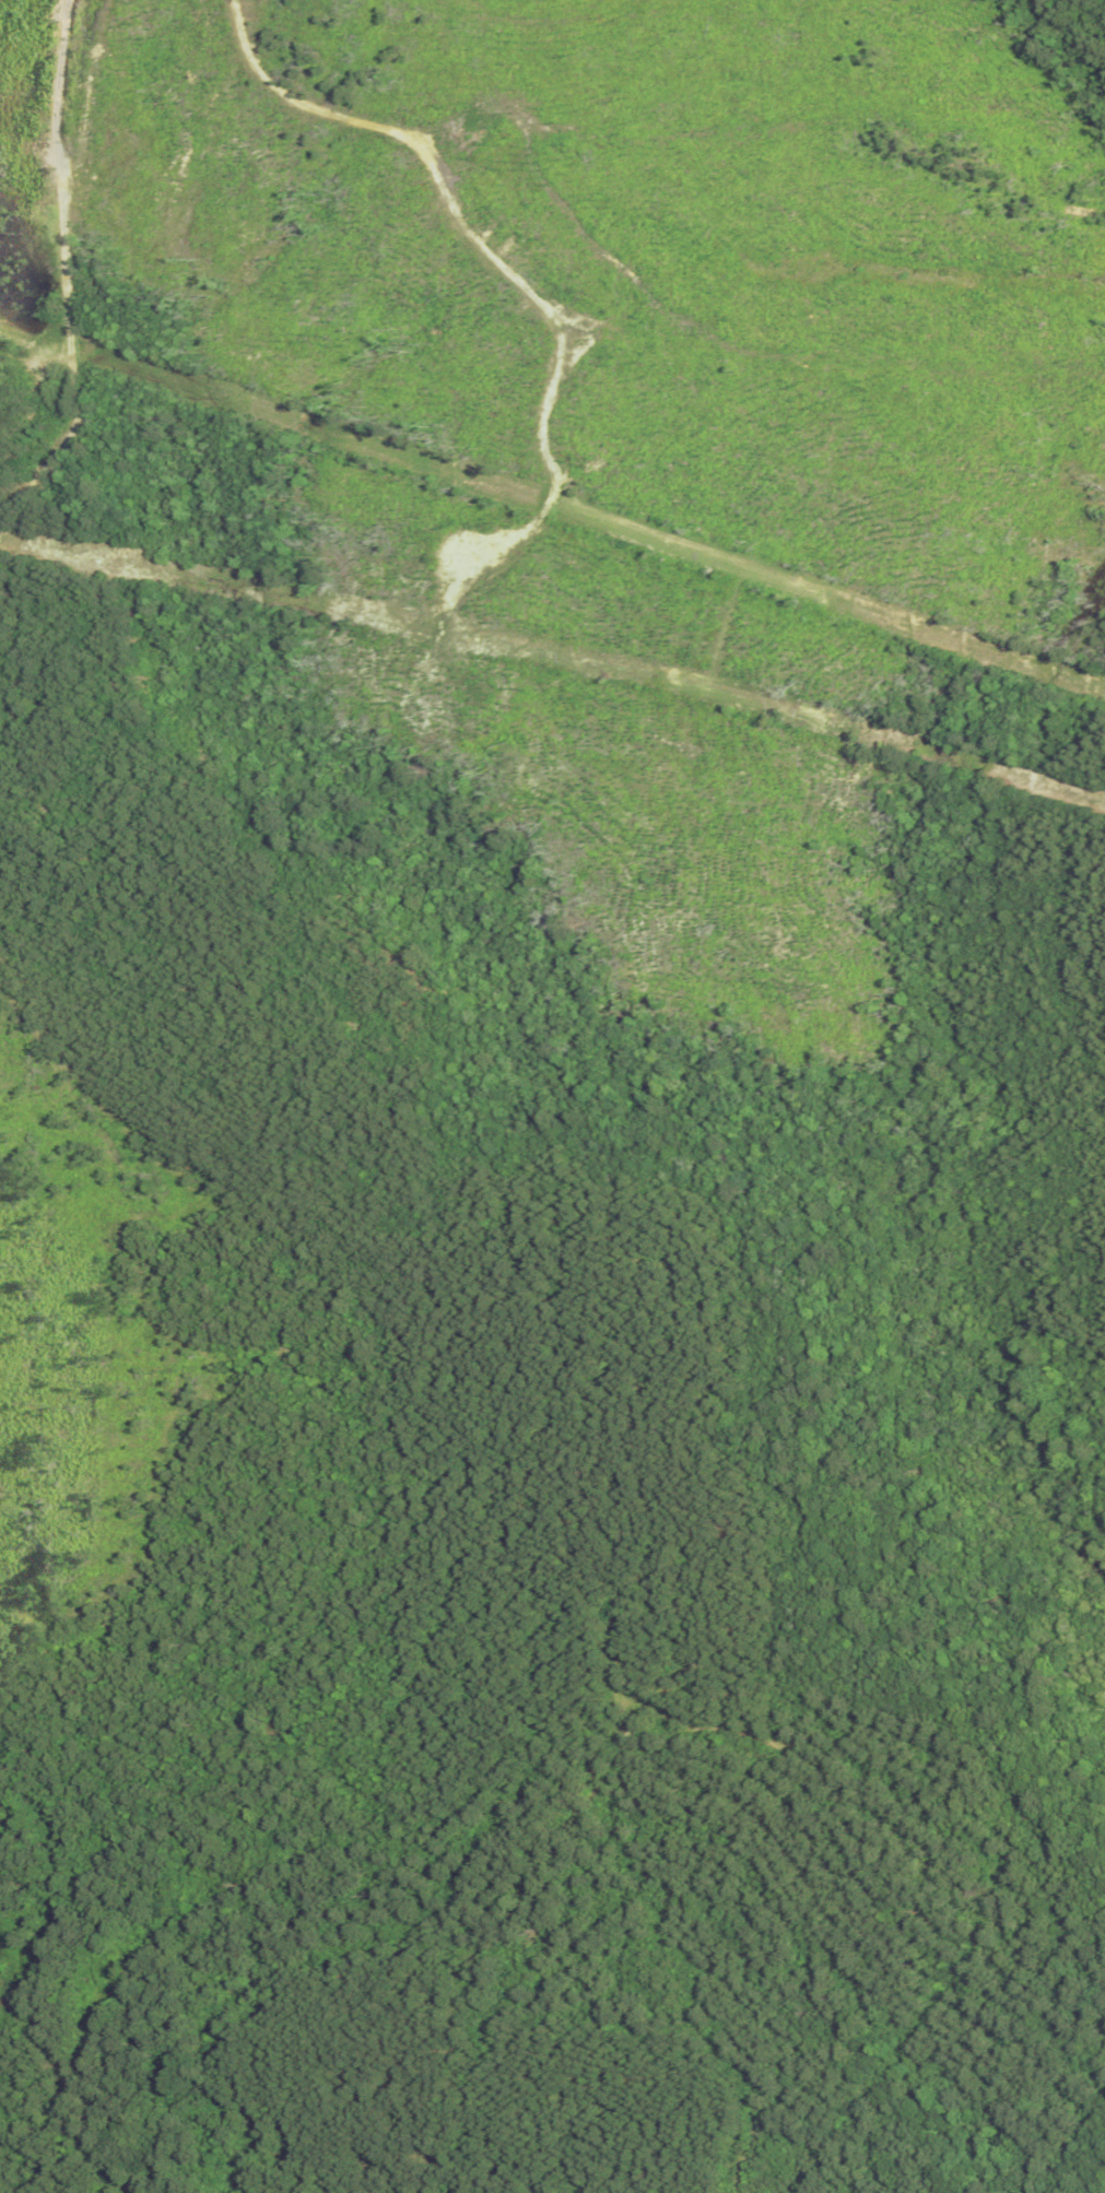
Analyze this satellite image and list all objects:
road: (64, 275)
road: (74, 2092)

